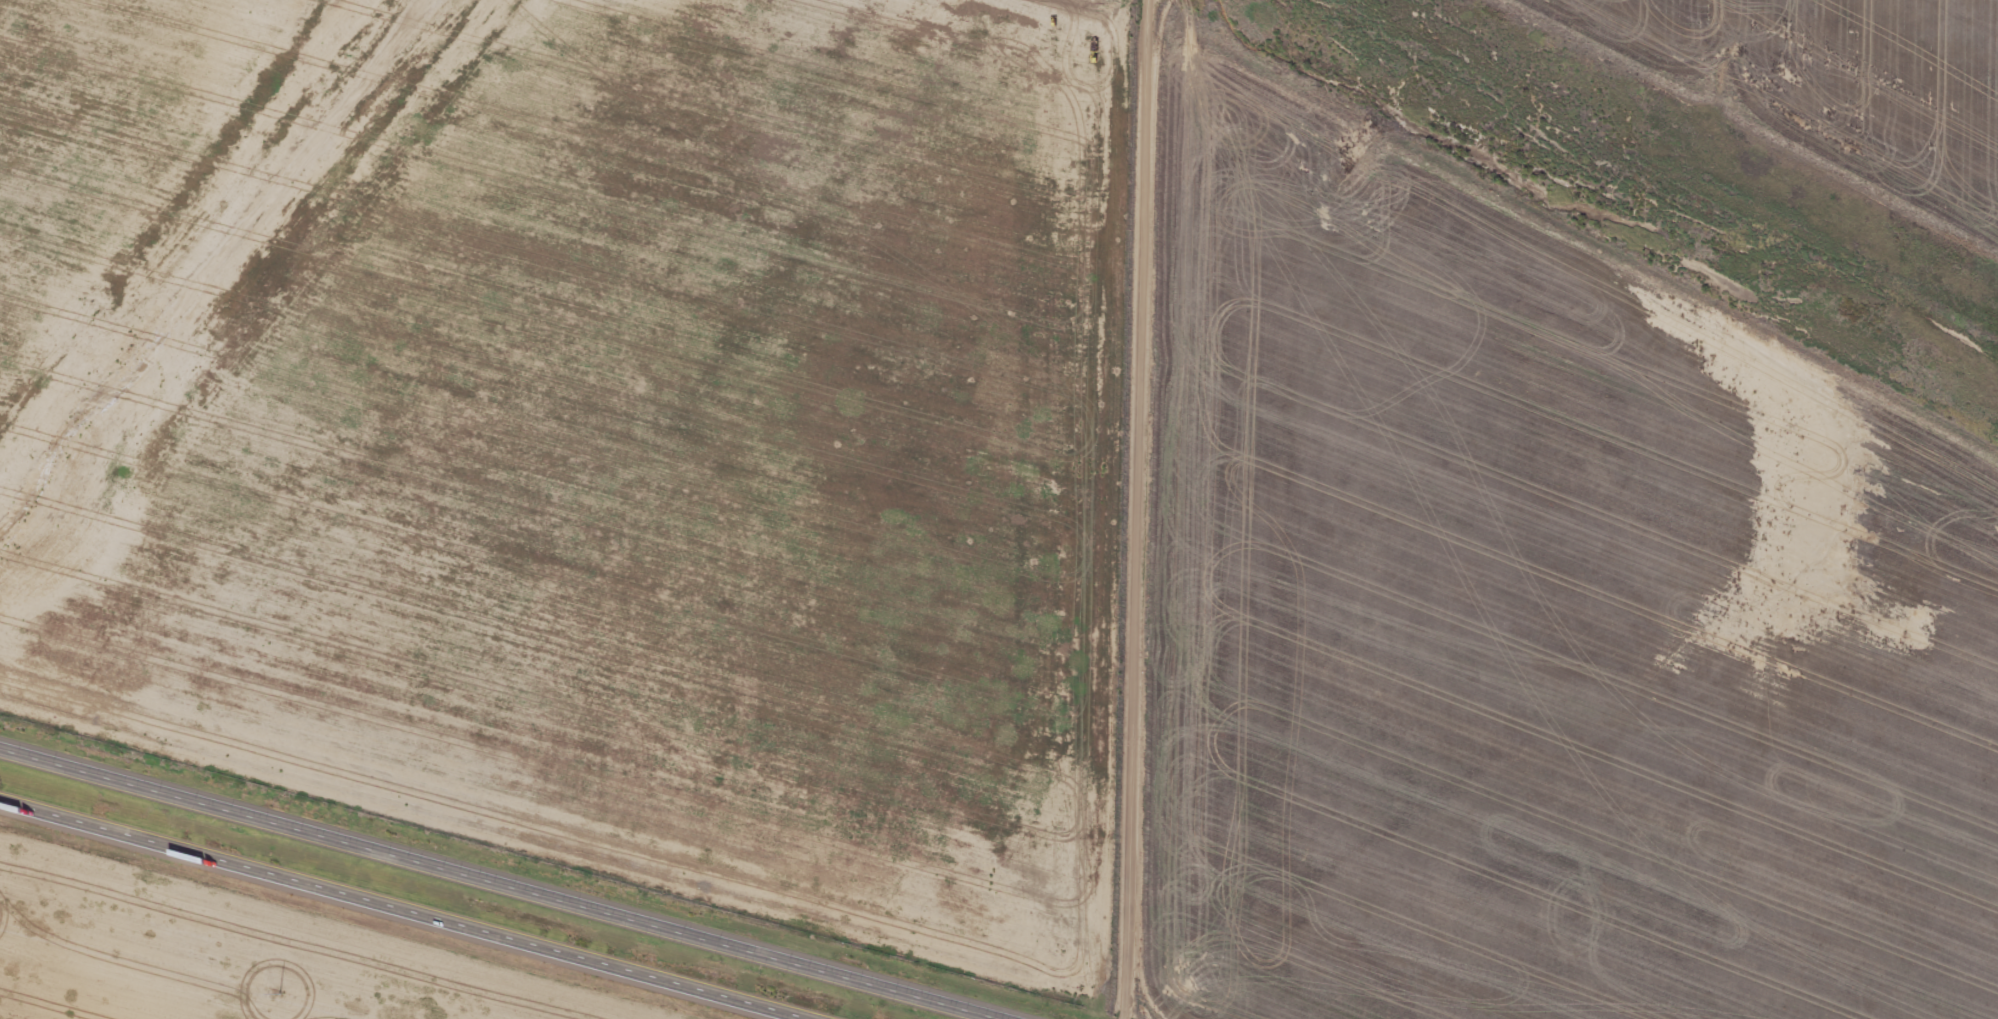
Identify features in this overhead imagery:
road: (1139, 509)
road: (502, 882)
road: (390, 912)
power tower: (273, 998)

